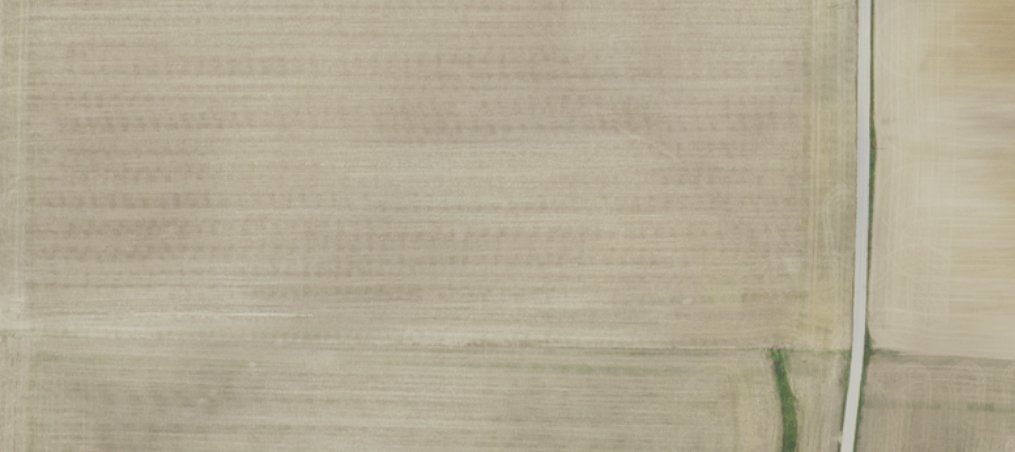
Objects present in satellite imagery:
road: (861, 226)

